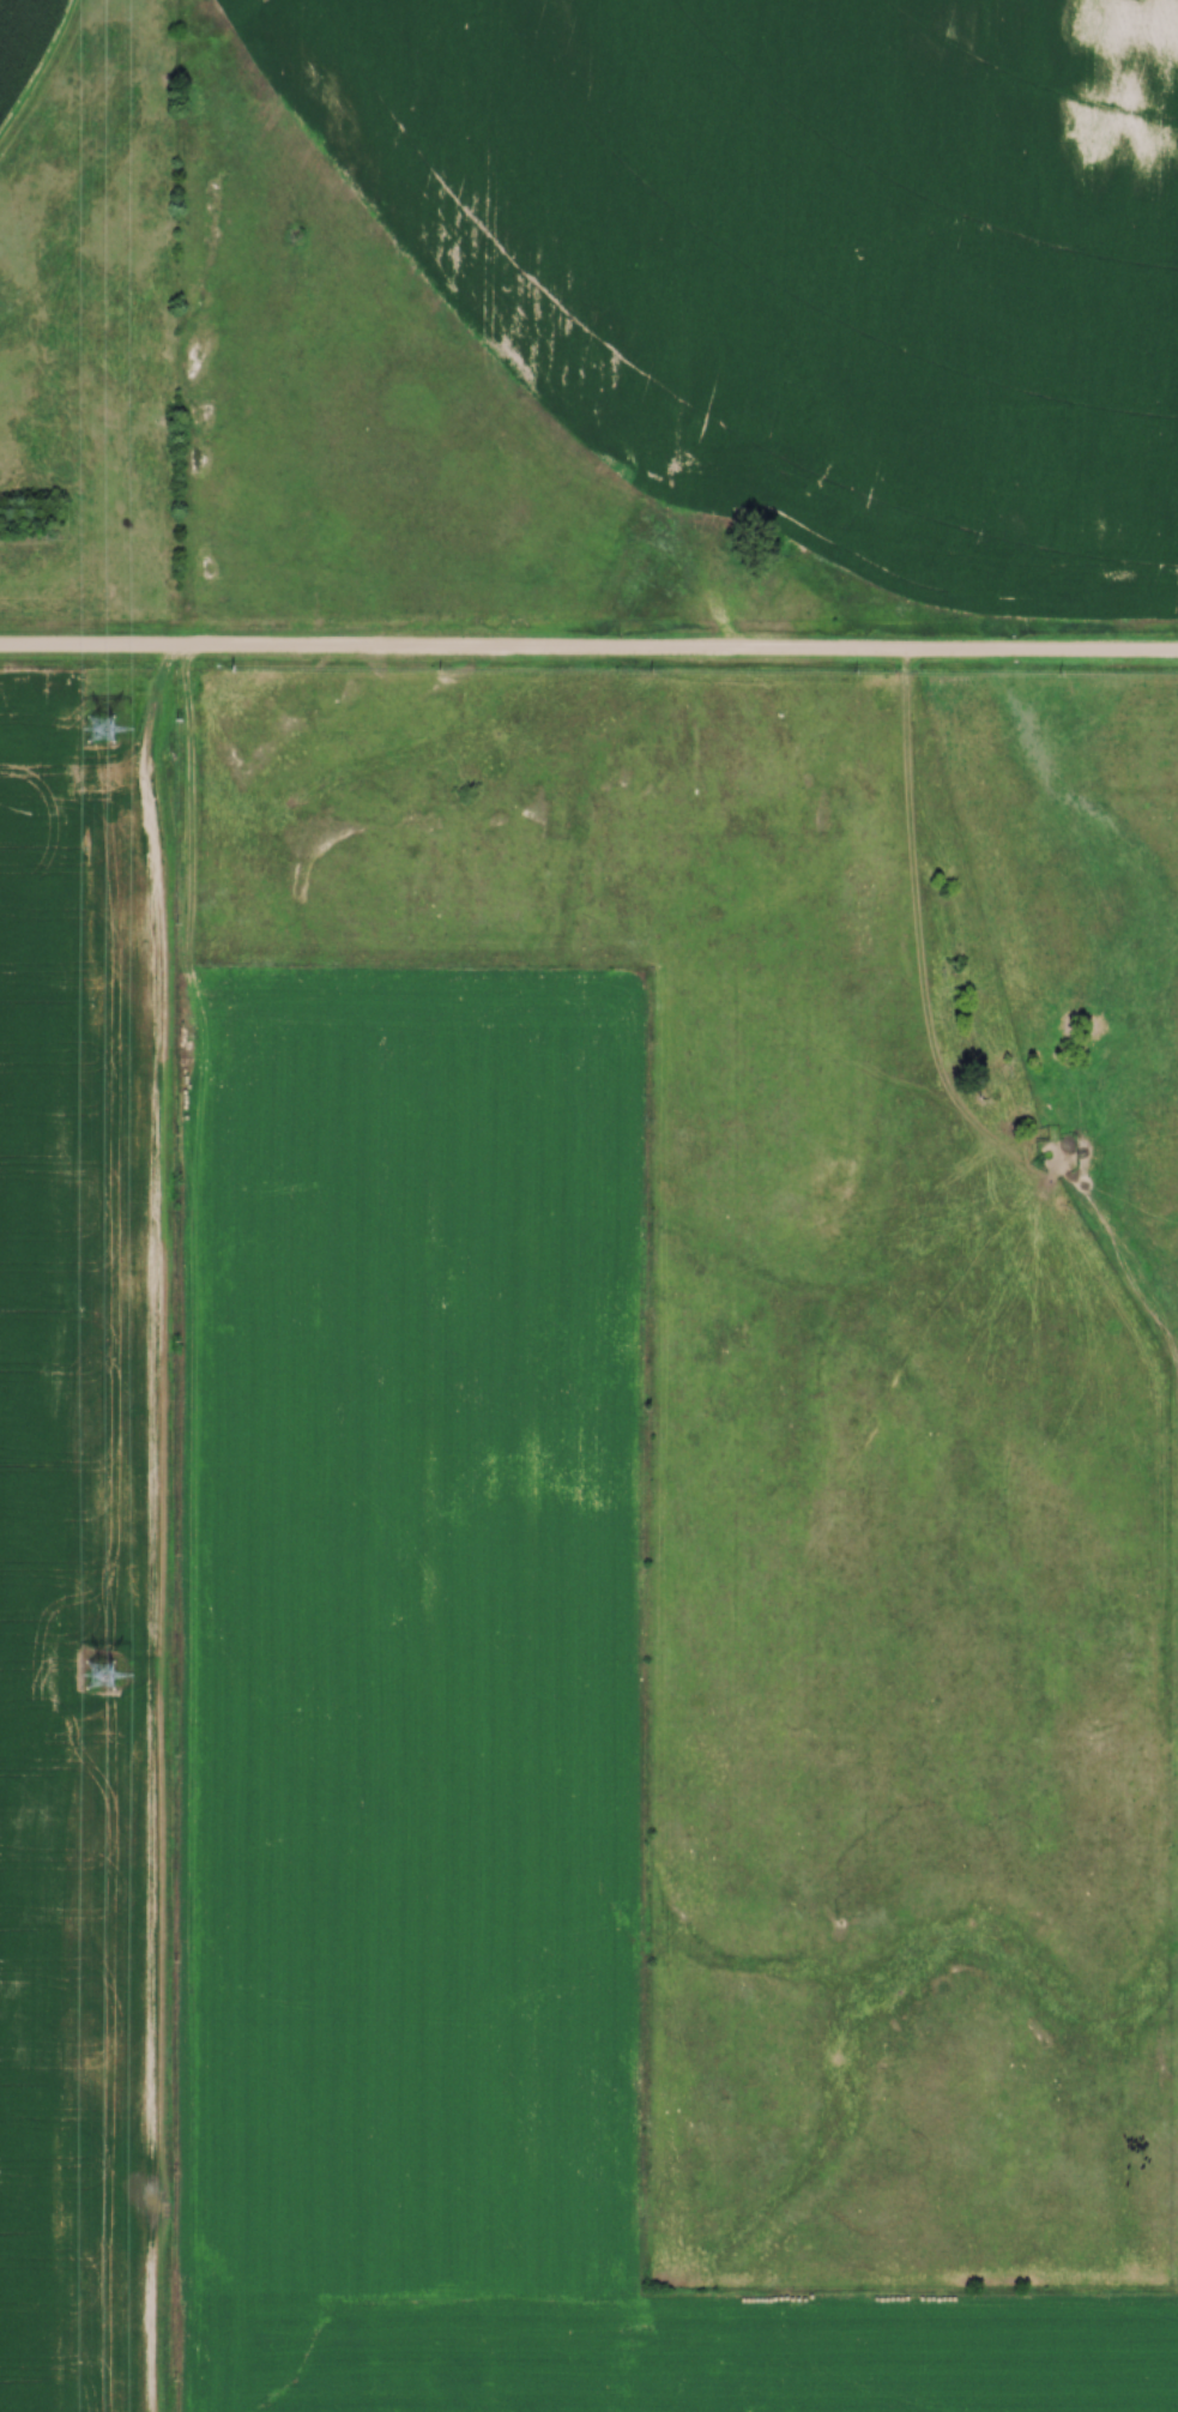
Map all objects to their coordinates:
road: (588, 655)
power tower: (103, 729)
power tower: (101, 1675)

